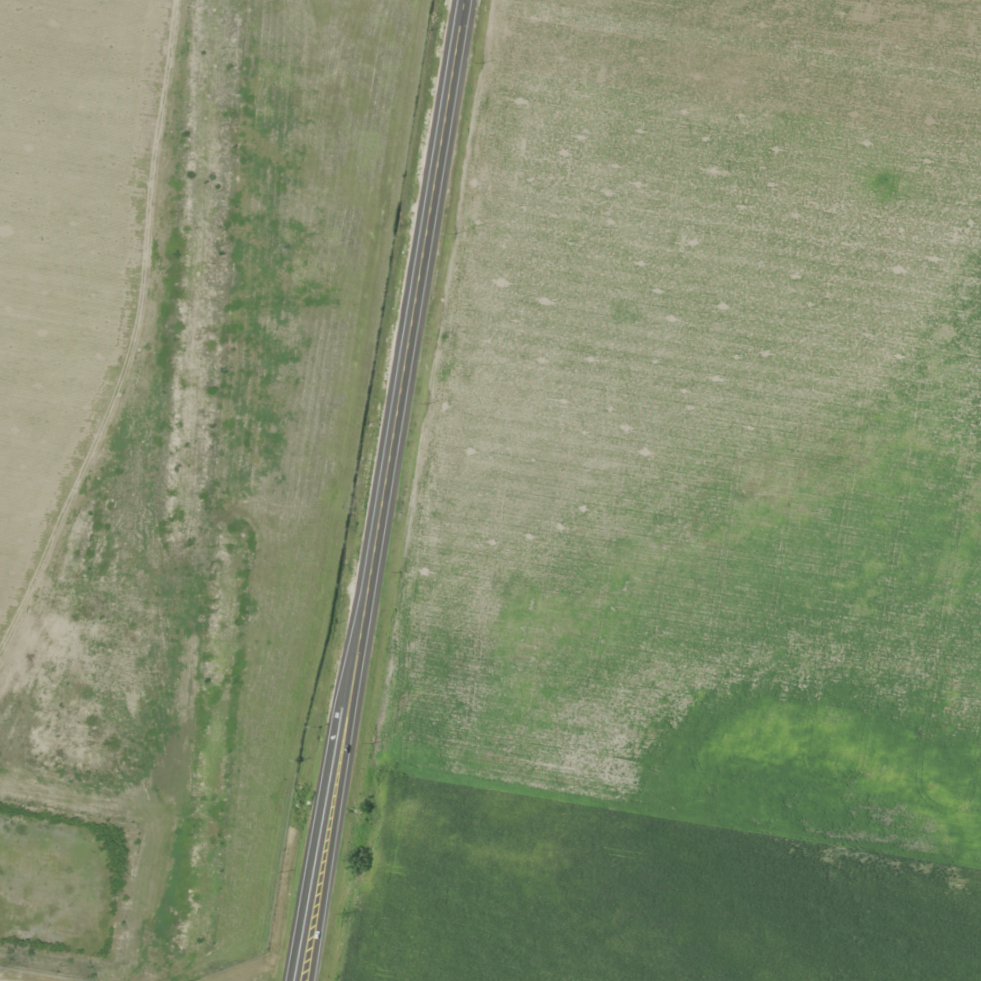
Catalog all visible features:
road: (384, 490)

